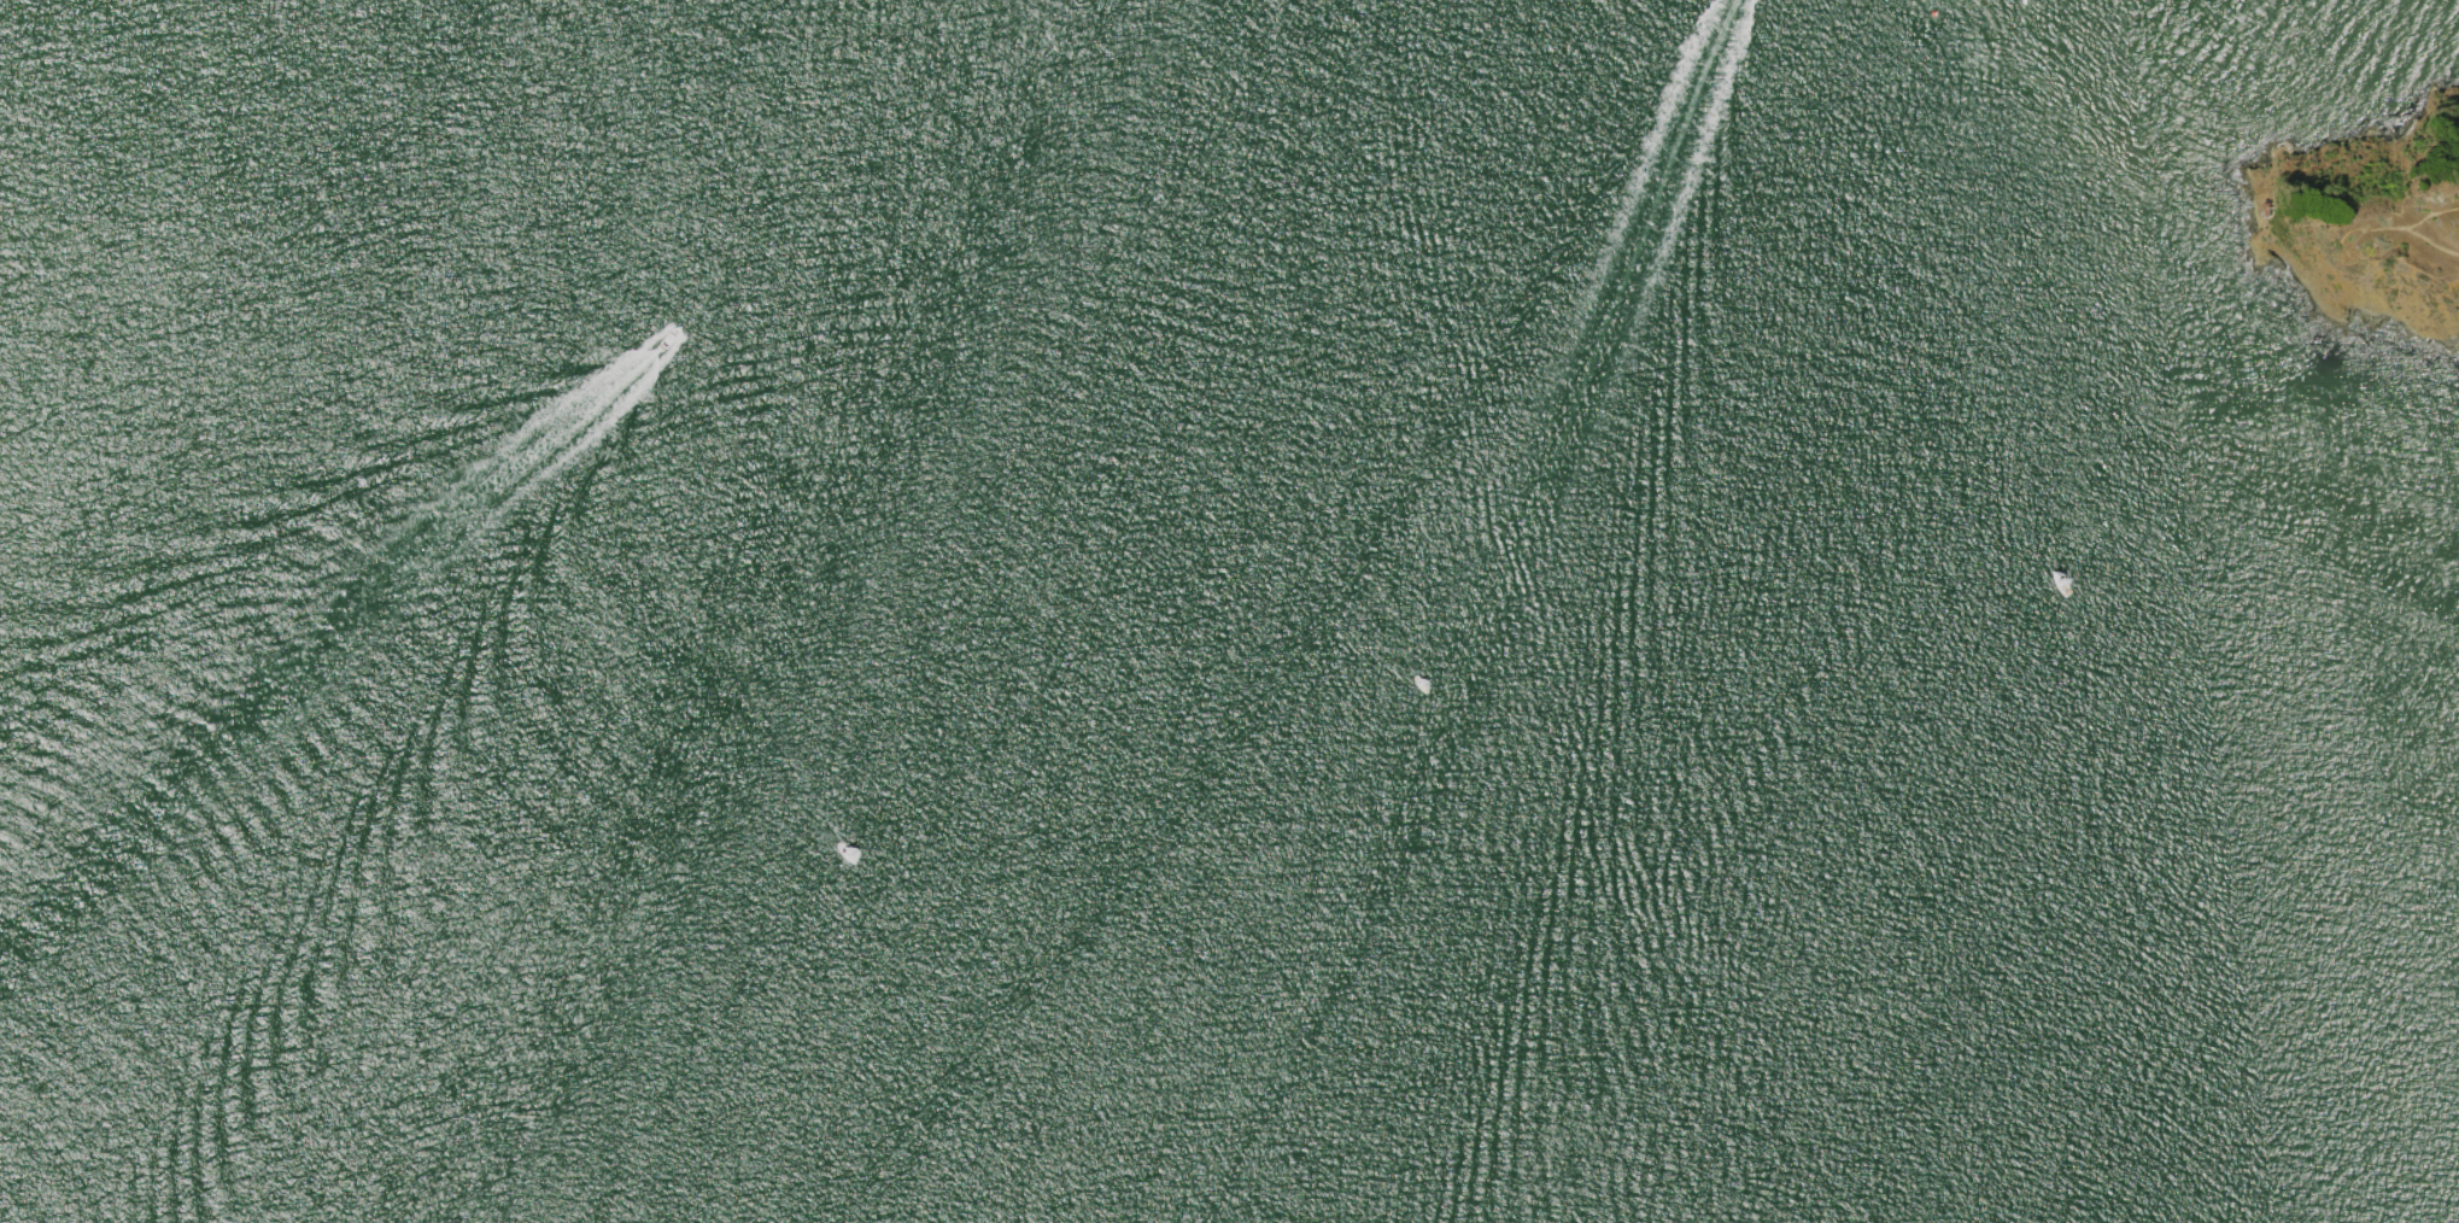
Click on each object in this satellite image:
building: (2282, 210)
park: (2367, 220)
road: (2440, 220)
road: (2342, 227)
road: (2408, 228)
road: (2440, 238)

